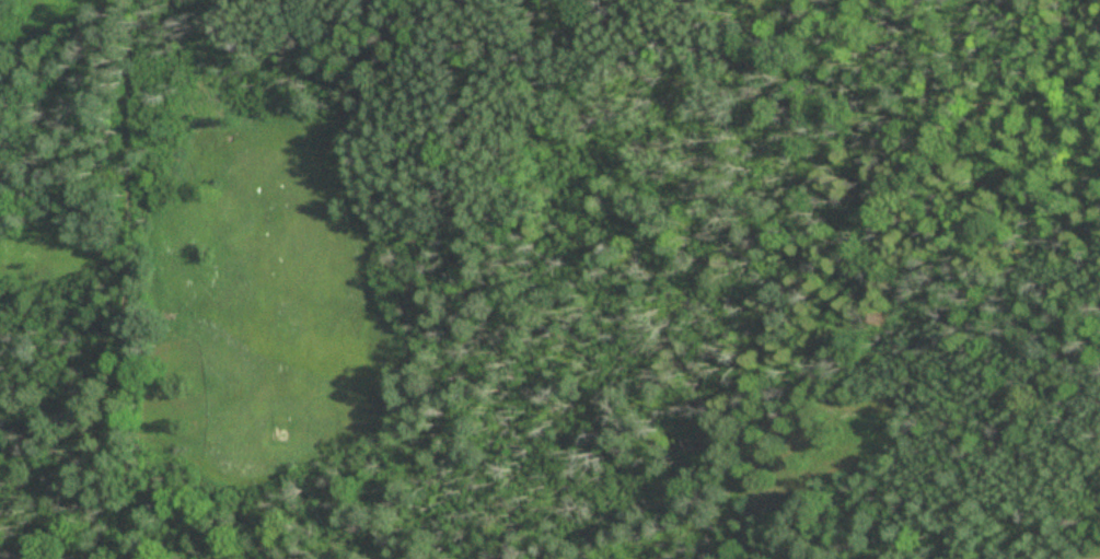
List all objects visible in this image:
road: (115, 279)

